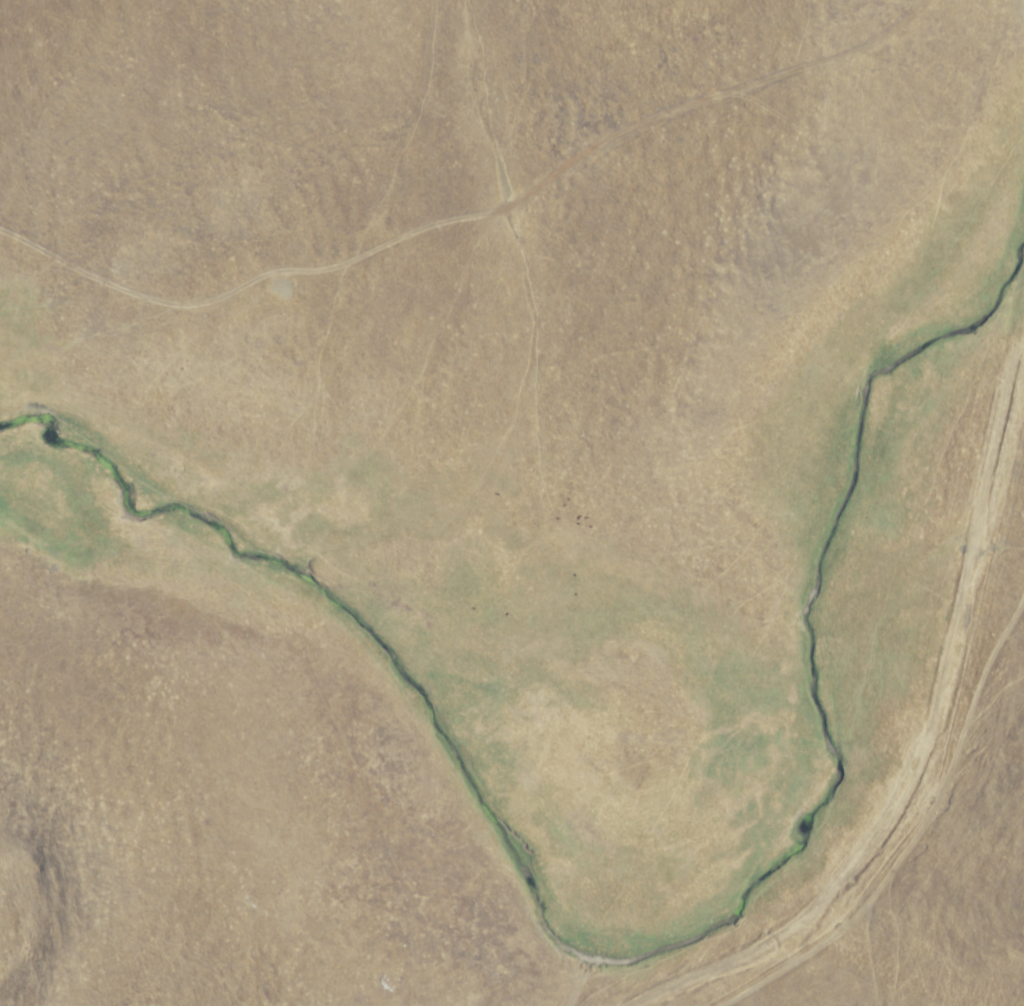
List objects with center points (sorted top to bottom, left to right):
road: (428, 181)

